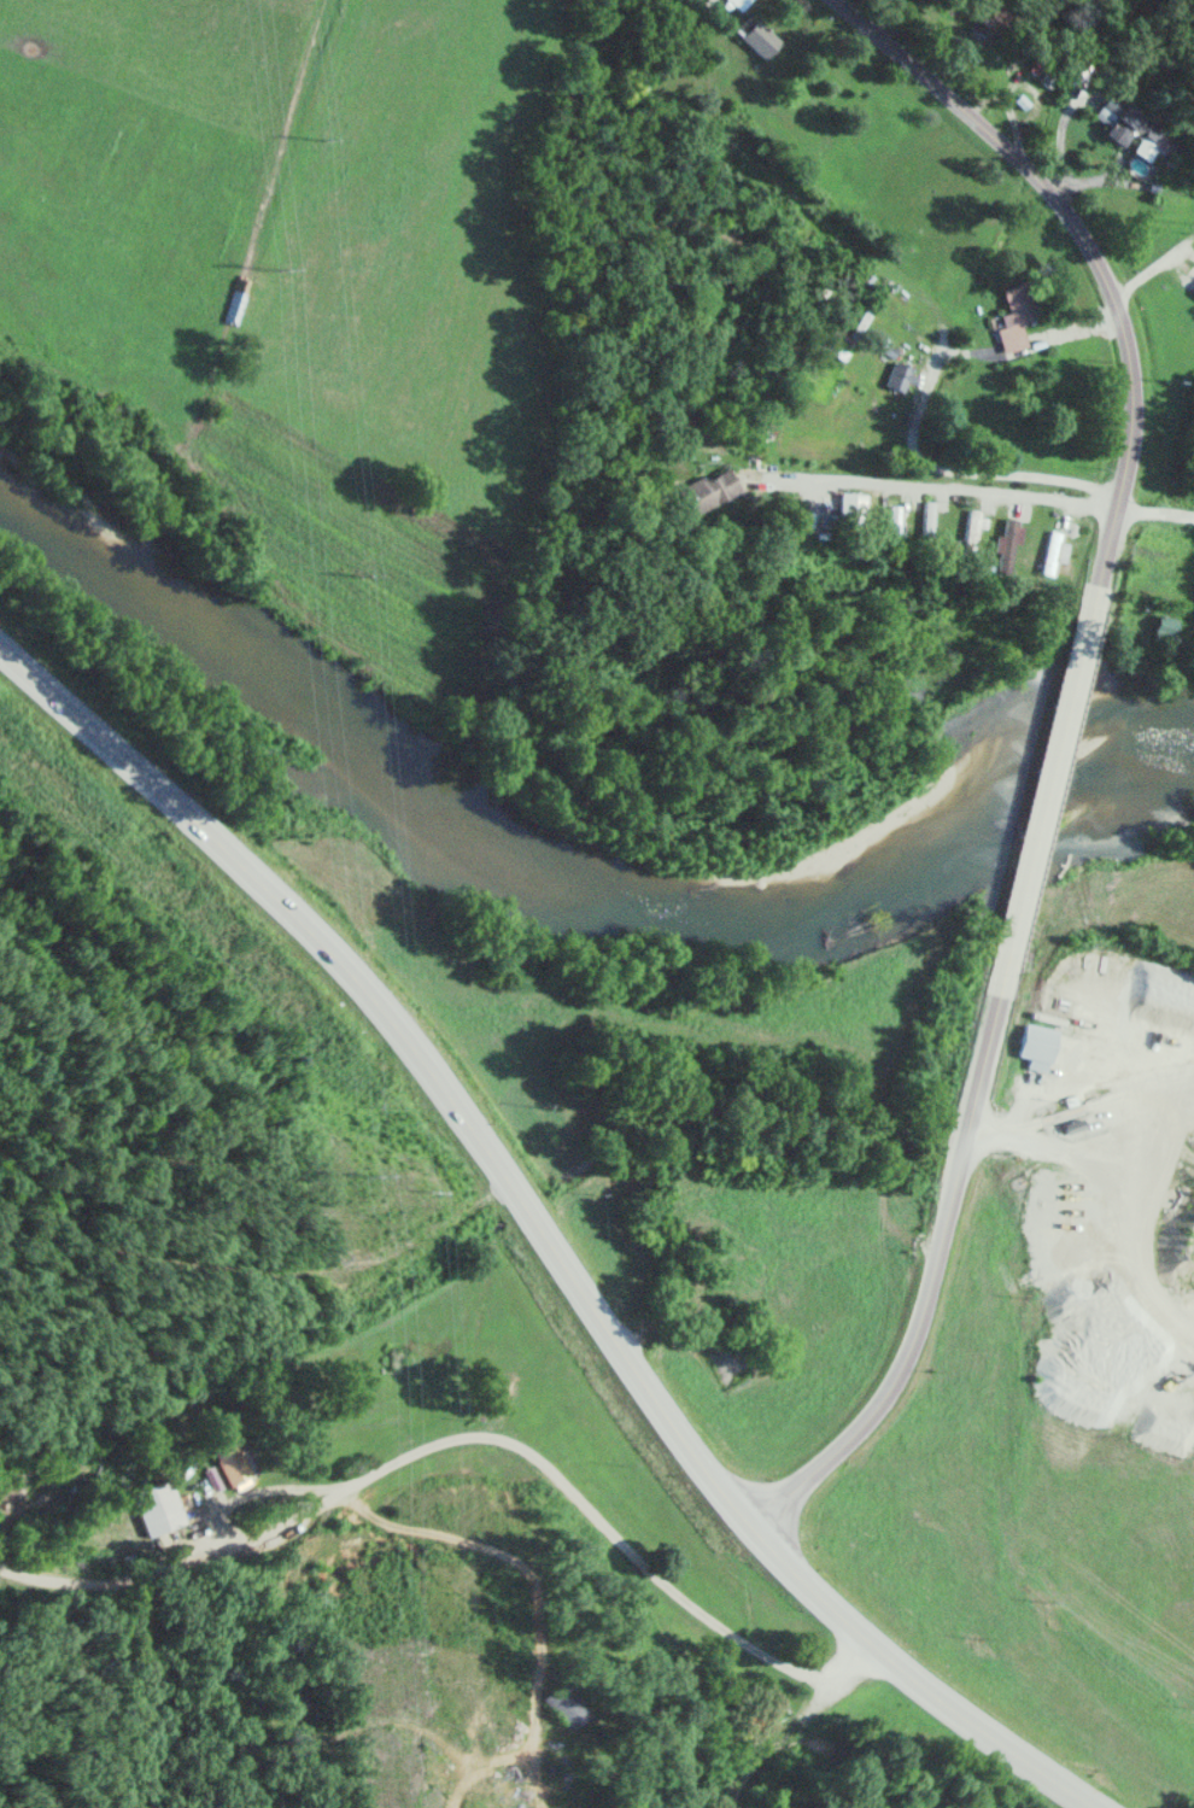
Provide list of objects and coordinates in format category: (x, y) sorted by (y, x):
building: (739, 4)
building: (985, 17)
building: (760, 39)
building: (1139, 128)
road: (1091, 247)
building: (1016, 321)
road: (966, 351)
building: (900, 378)
road: (918, 445)
building: (709, 490)
road: (972, 496)
building: (849, 507)
building: (930, 515)
building: (1053, 546)
building: (1164, 628)
road: (1049, 783)
river: (548, 870)
building: (1035, 1042)
road: (415, 1051)
road: (930, 1275)
road: (406, 1457)
building: (232, 1459)
building: (158, 1505)
road: (117, 1574)
road: (719, 1633)
road: (915, 1677)
building: (566, 1704)

